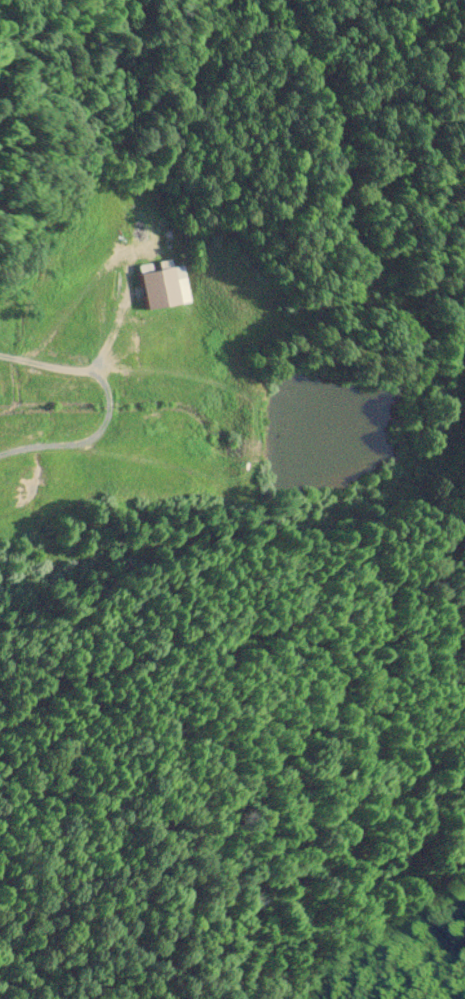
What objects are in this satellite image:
road: (299, 223)
building: (157, 289)

